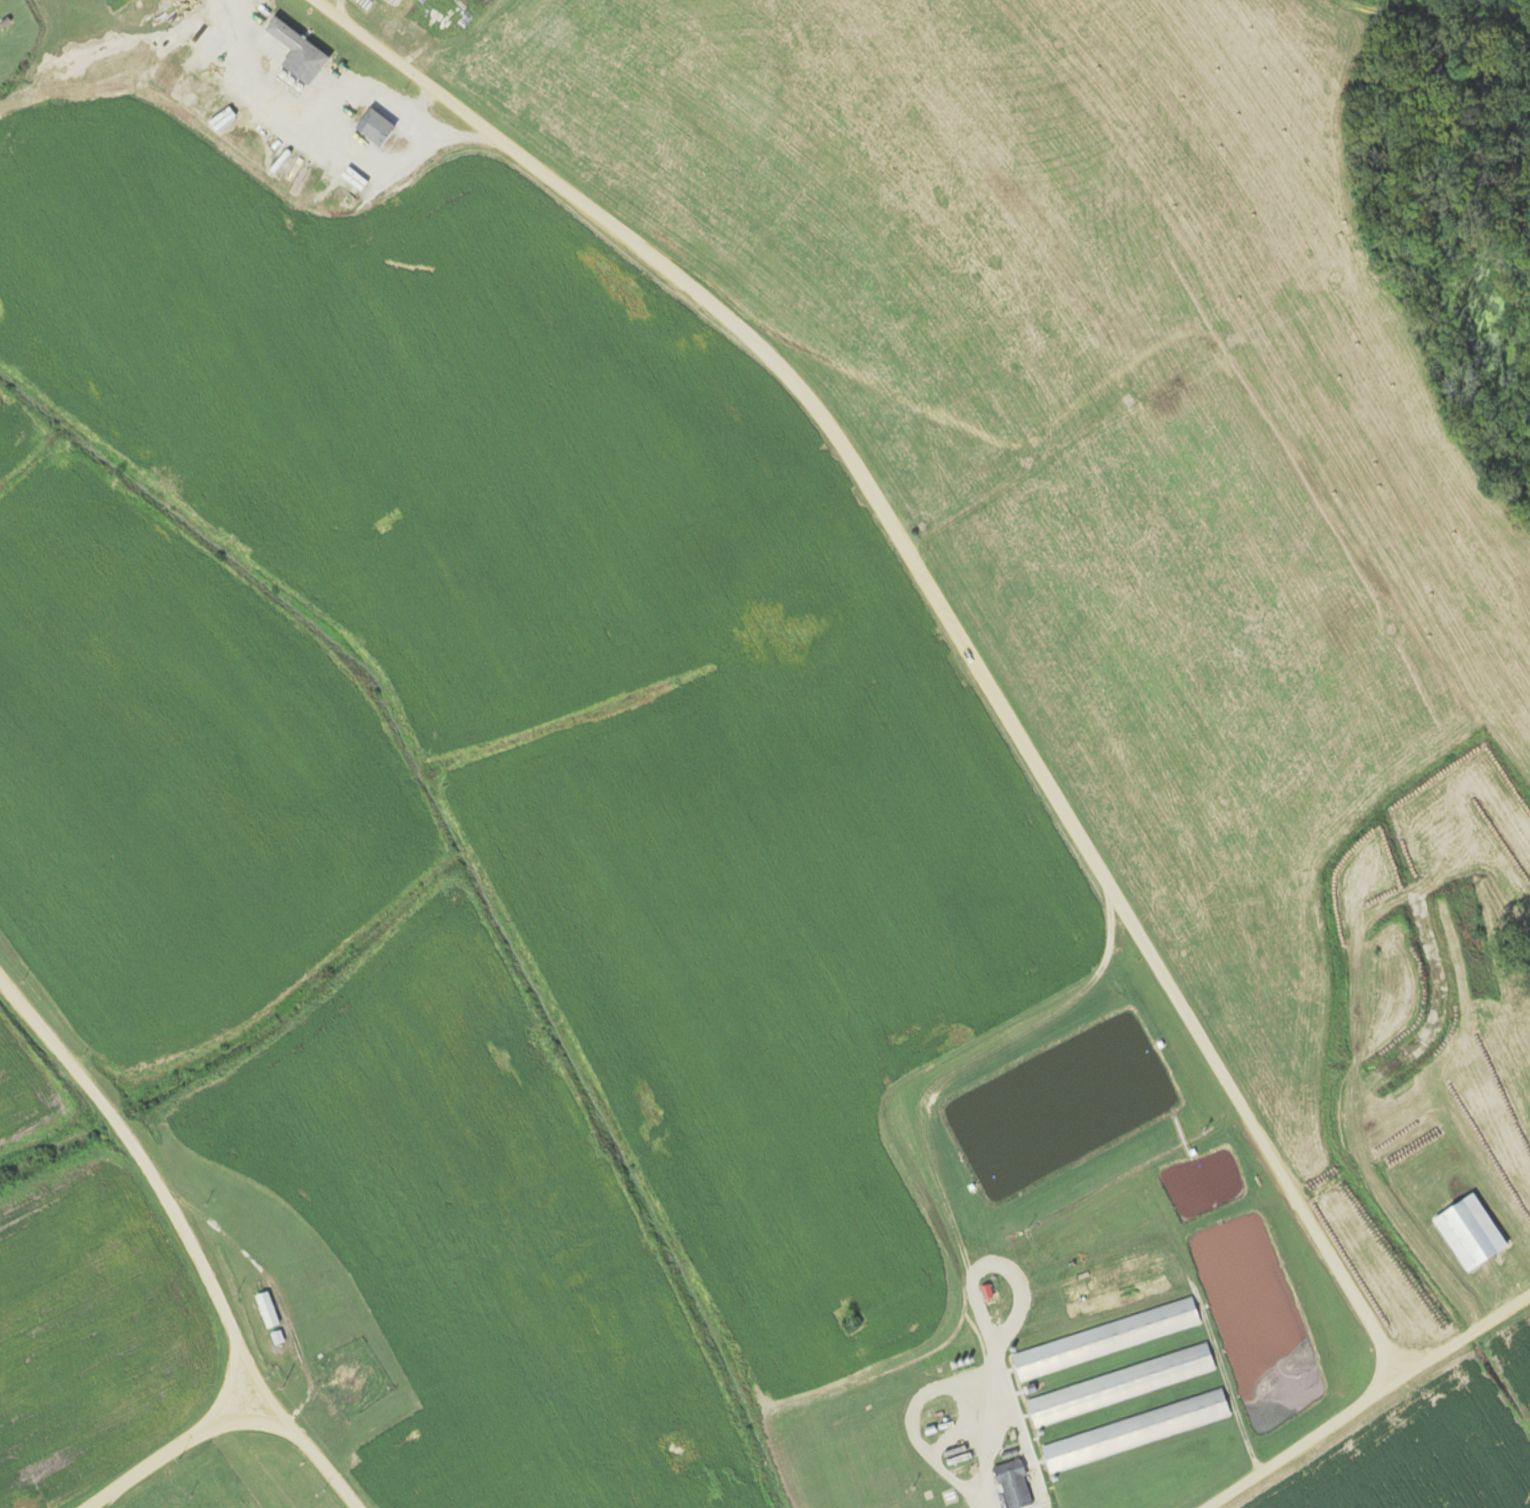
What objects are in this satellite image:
building: (296, 52)
building: (373, 127)
road: (942, 607)
road: (145, 1183)
building: (1469, 1233)
building: (266, 1310)
building: (1105, 1339)
building: (1120, 1385)
road: (1359, 1395)
road: (230, 1399)
building: (1135, 1430)
building: (1014, 1484)

